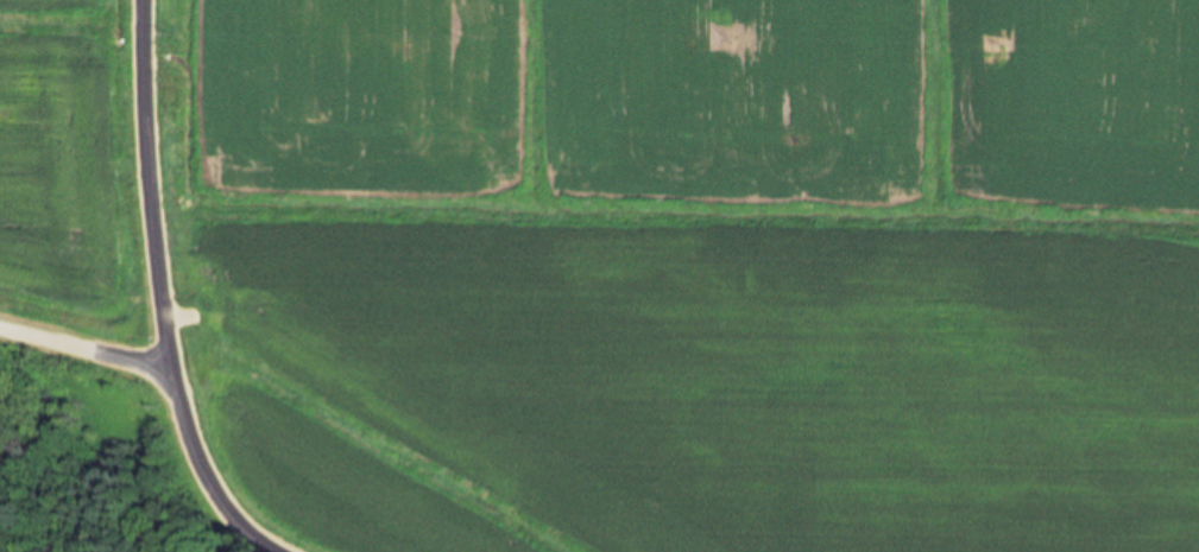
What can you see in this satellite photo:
road: (152, 183)
road: (86, 344)
road: (209, 471)

